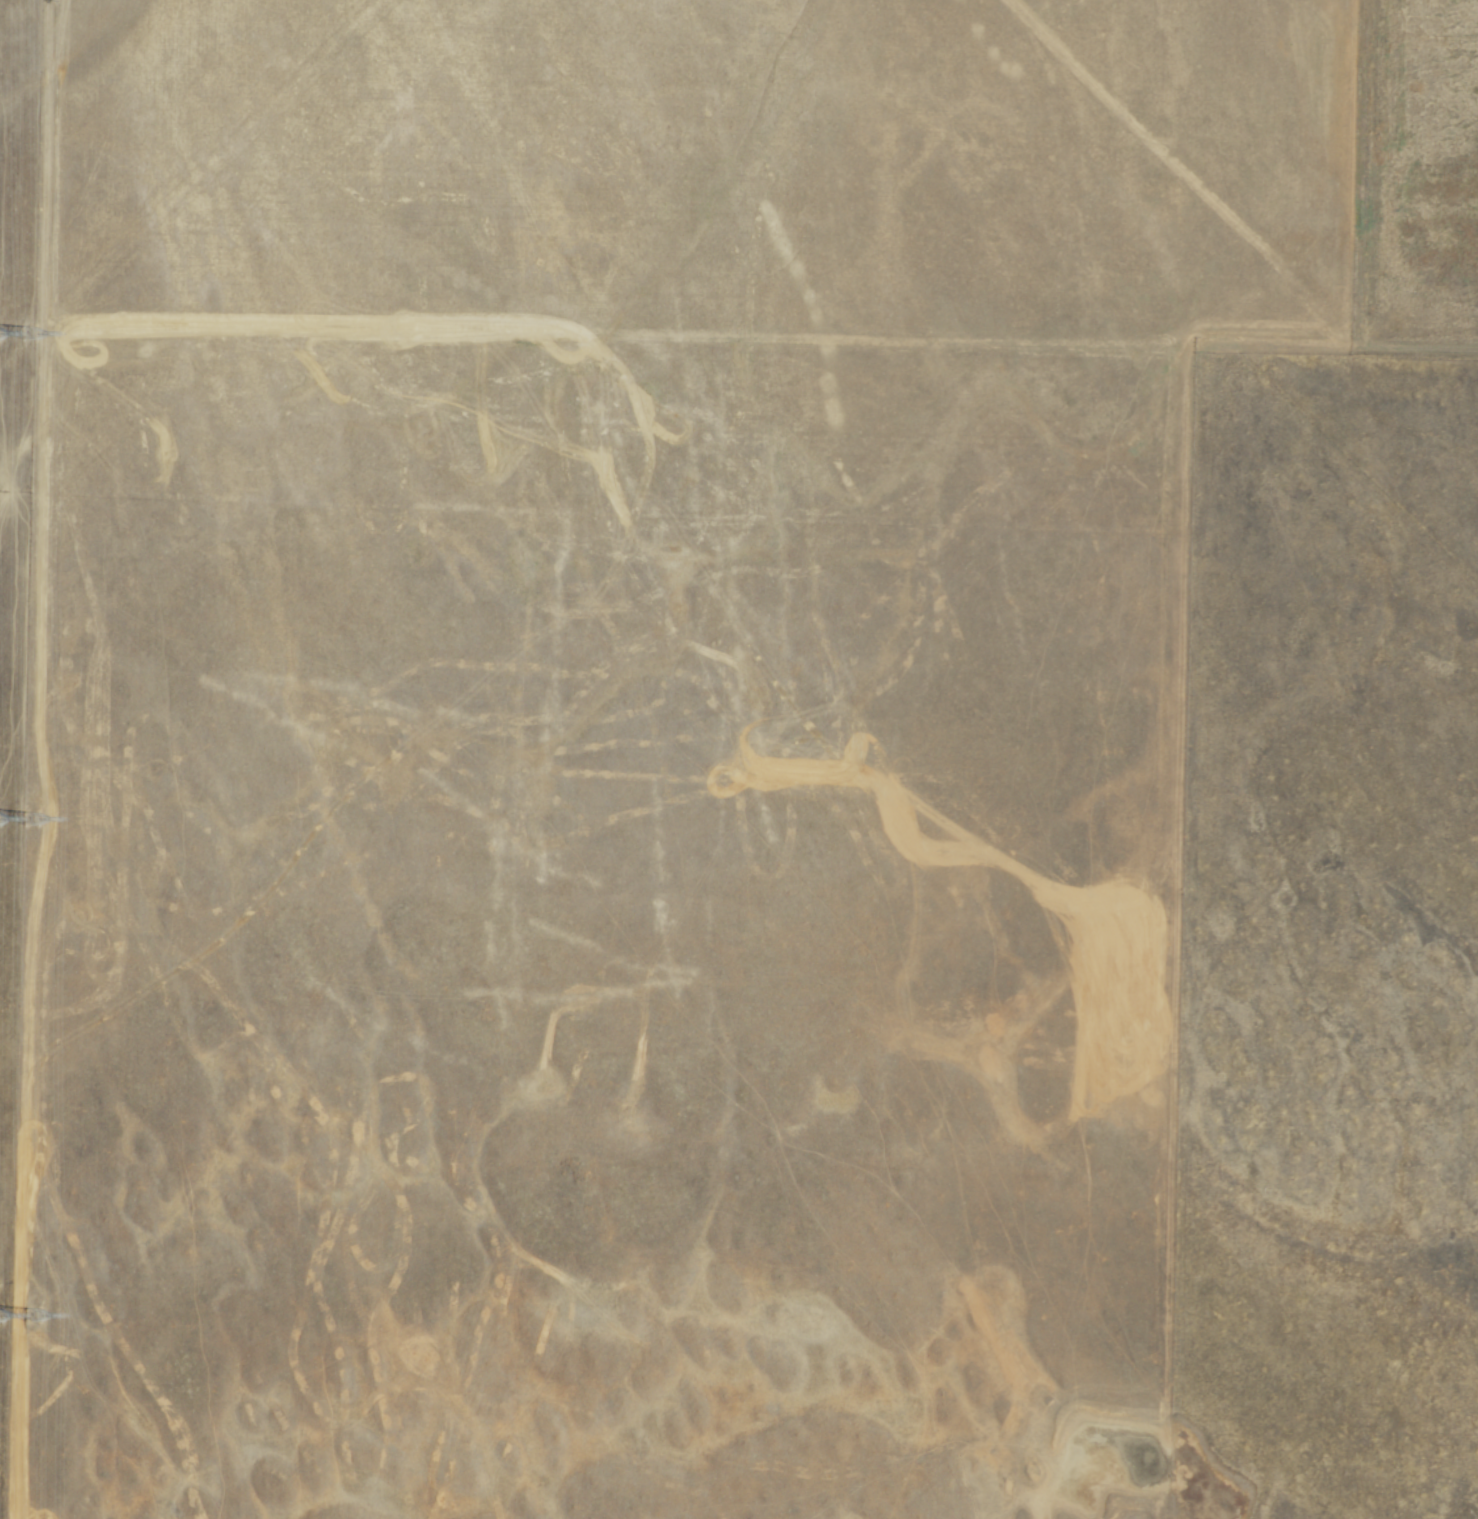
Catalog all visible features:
crop: (1417, 18)
crop: (1416, 199)
road: (1361, 230)
power tower: (28, 332)
road: (617, 335)
road: (42, 404)
power tower: (31, 818)
road: (1177, 875)
power tower: (31, 1316)

